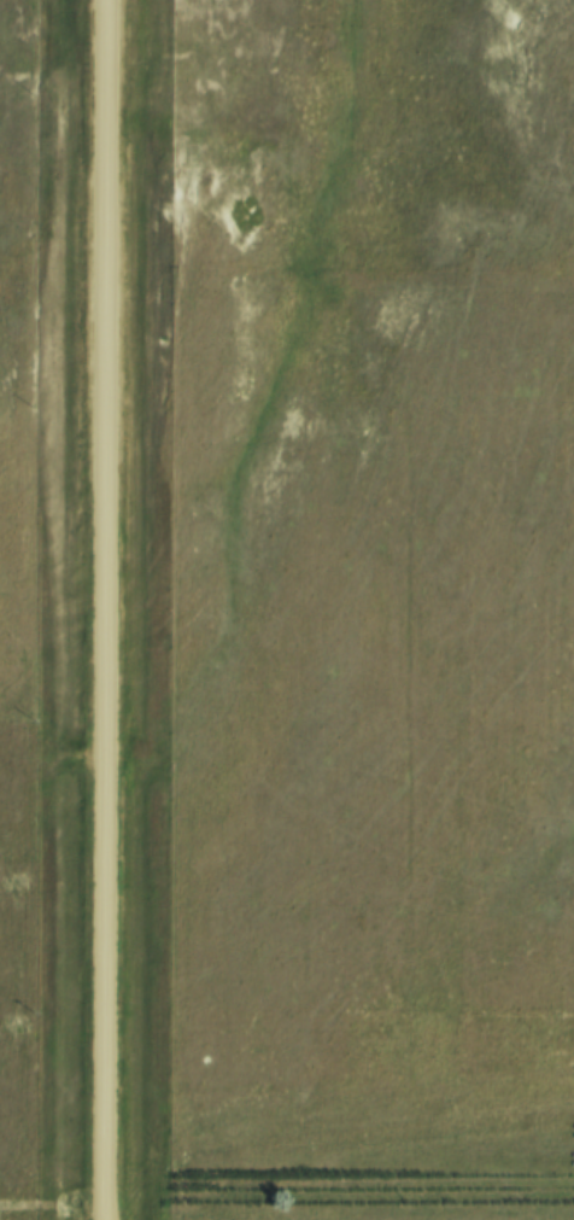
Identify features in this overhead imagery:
road: (106, 609)
road: (53, 1208)

